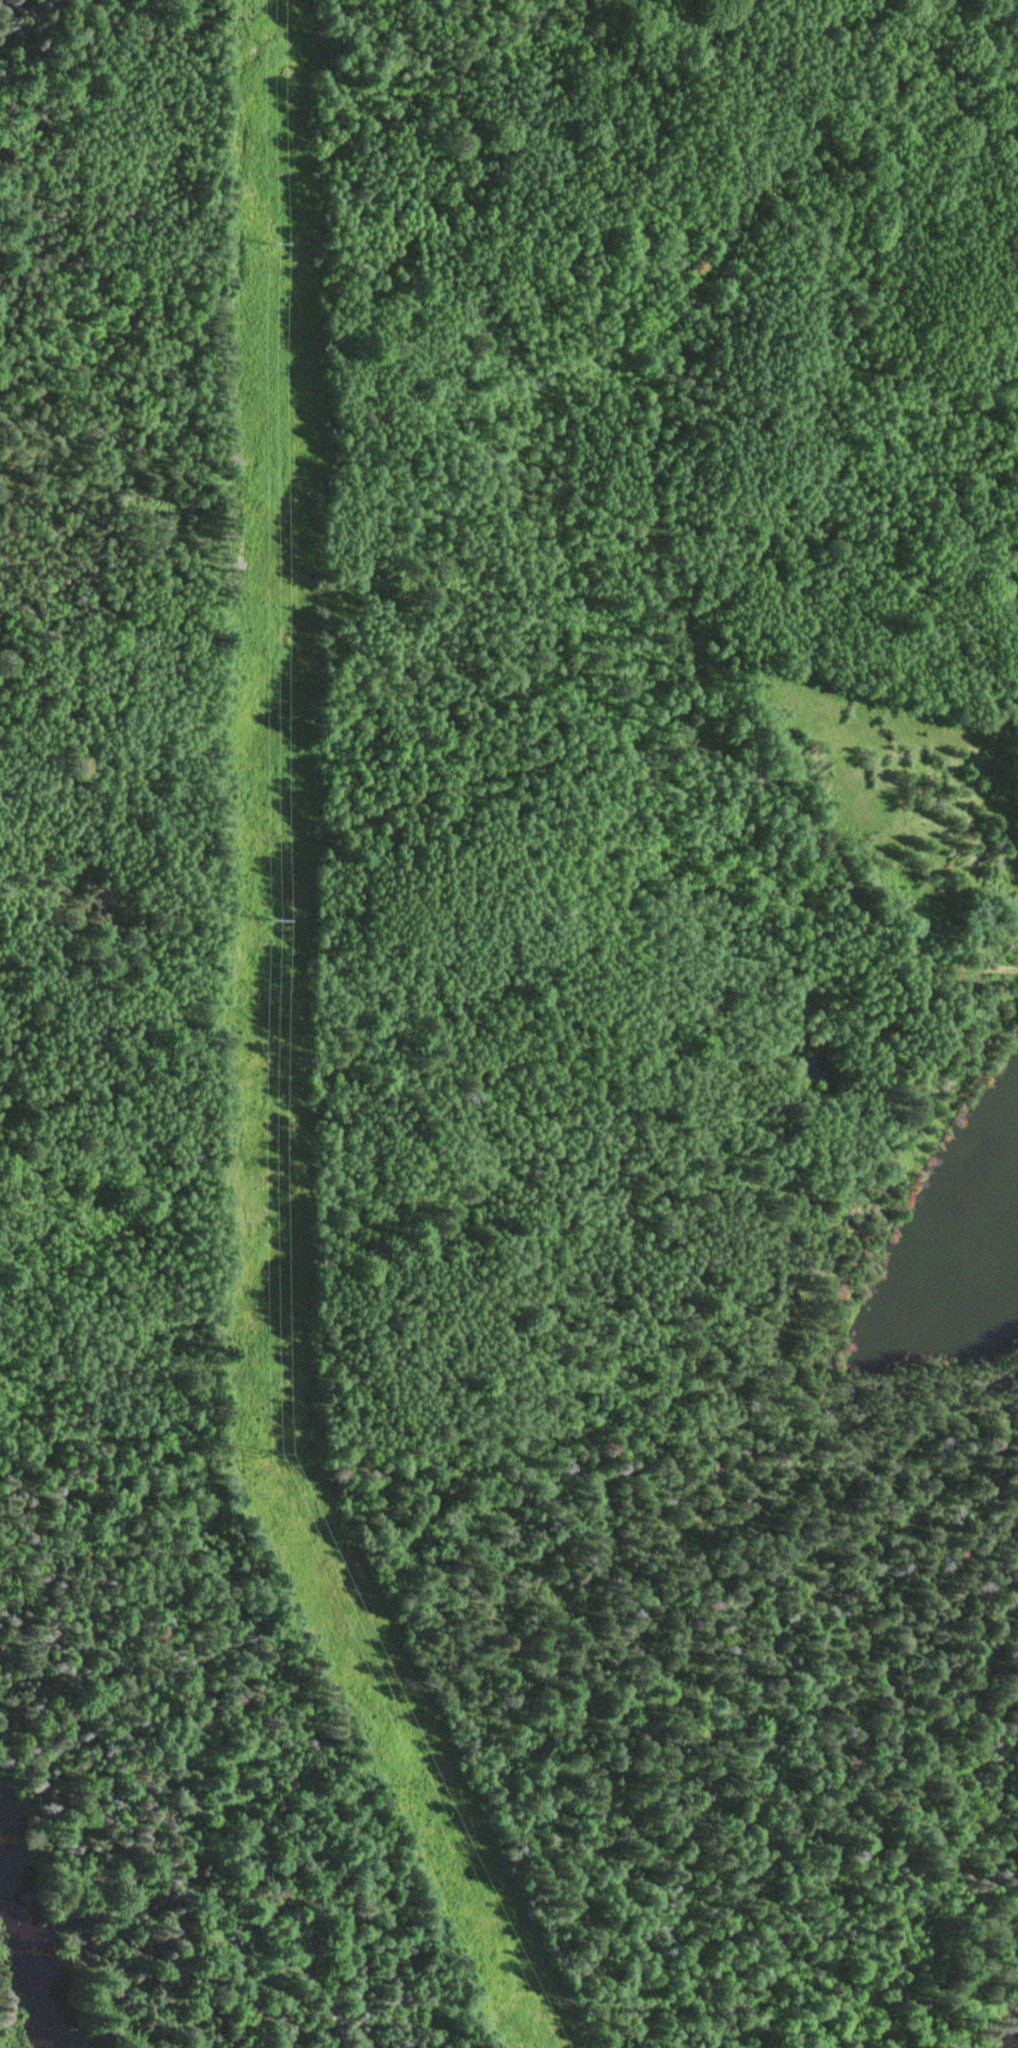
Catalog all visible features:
river: (53, 1931)

